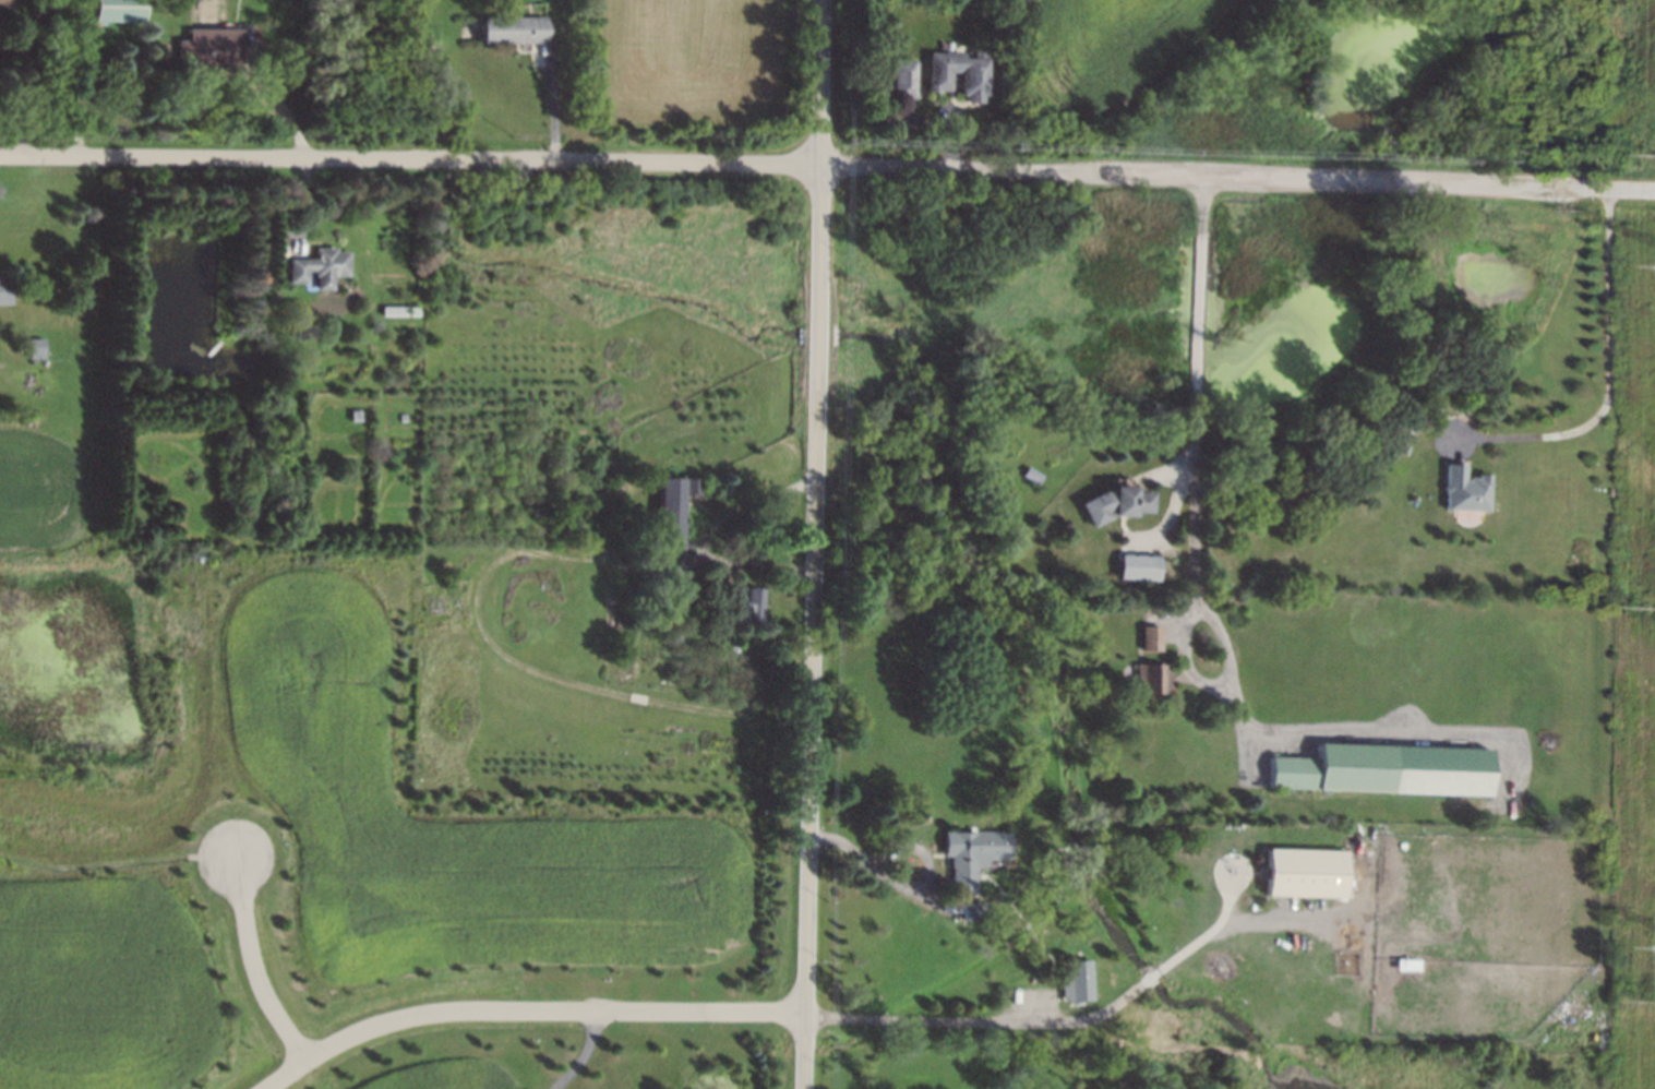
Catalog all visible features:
building: (7, 3)
building: (117, 10)
building: (515, 31)
building: (209, 47)
building: (904, 77)
building: (973, 81)
road: (825, 84)
road: (553, 96)
road: (827, 168)
building: (320, 266)
building: (4, 290)
building: (35, 347)
road: (1607, 380)
road: (1197, 460)
building: (1033, 475)
building: (692, 486)
building: (1468, 490)
building: (1117, 504)
building: (671, 512)
road: (758, 565)
building: (1138, 566)
road: (480, 587)
building: (753, 603)
power tower: (1654, 606)
road: (814, 629)
building: (1151, 638)
building: (1153, 679)
building: (1339, 768)
building: (972, 854)
road: (117, 861)
road: (876, 865)
building: (1305, 871)
road: (1211, 933)
road: (257, 964)
road: (1154, 979)
building: (1076, 980)
power tower: (1651, 1001)
road: (528, 1010)
road: (984, 1026)
road: (586, 1054)

